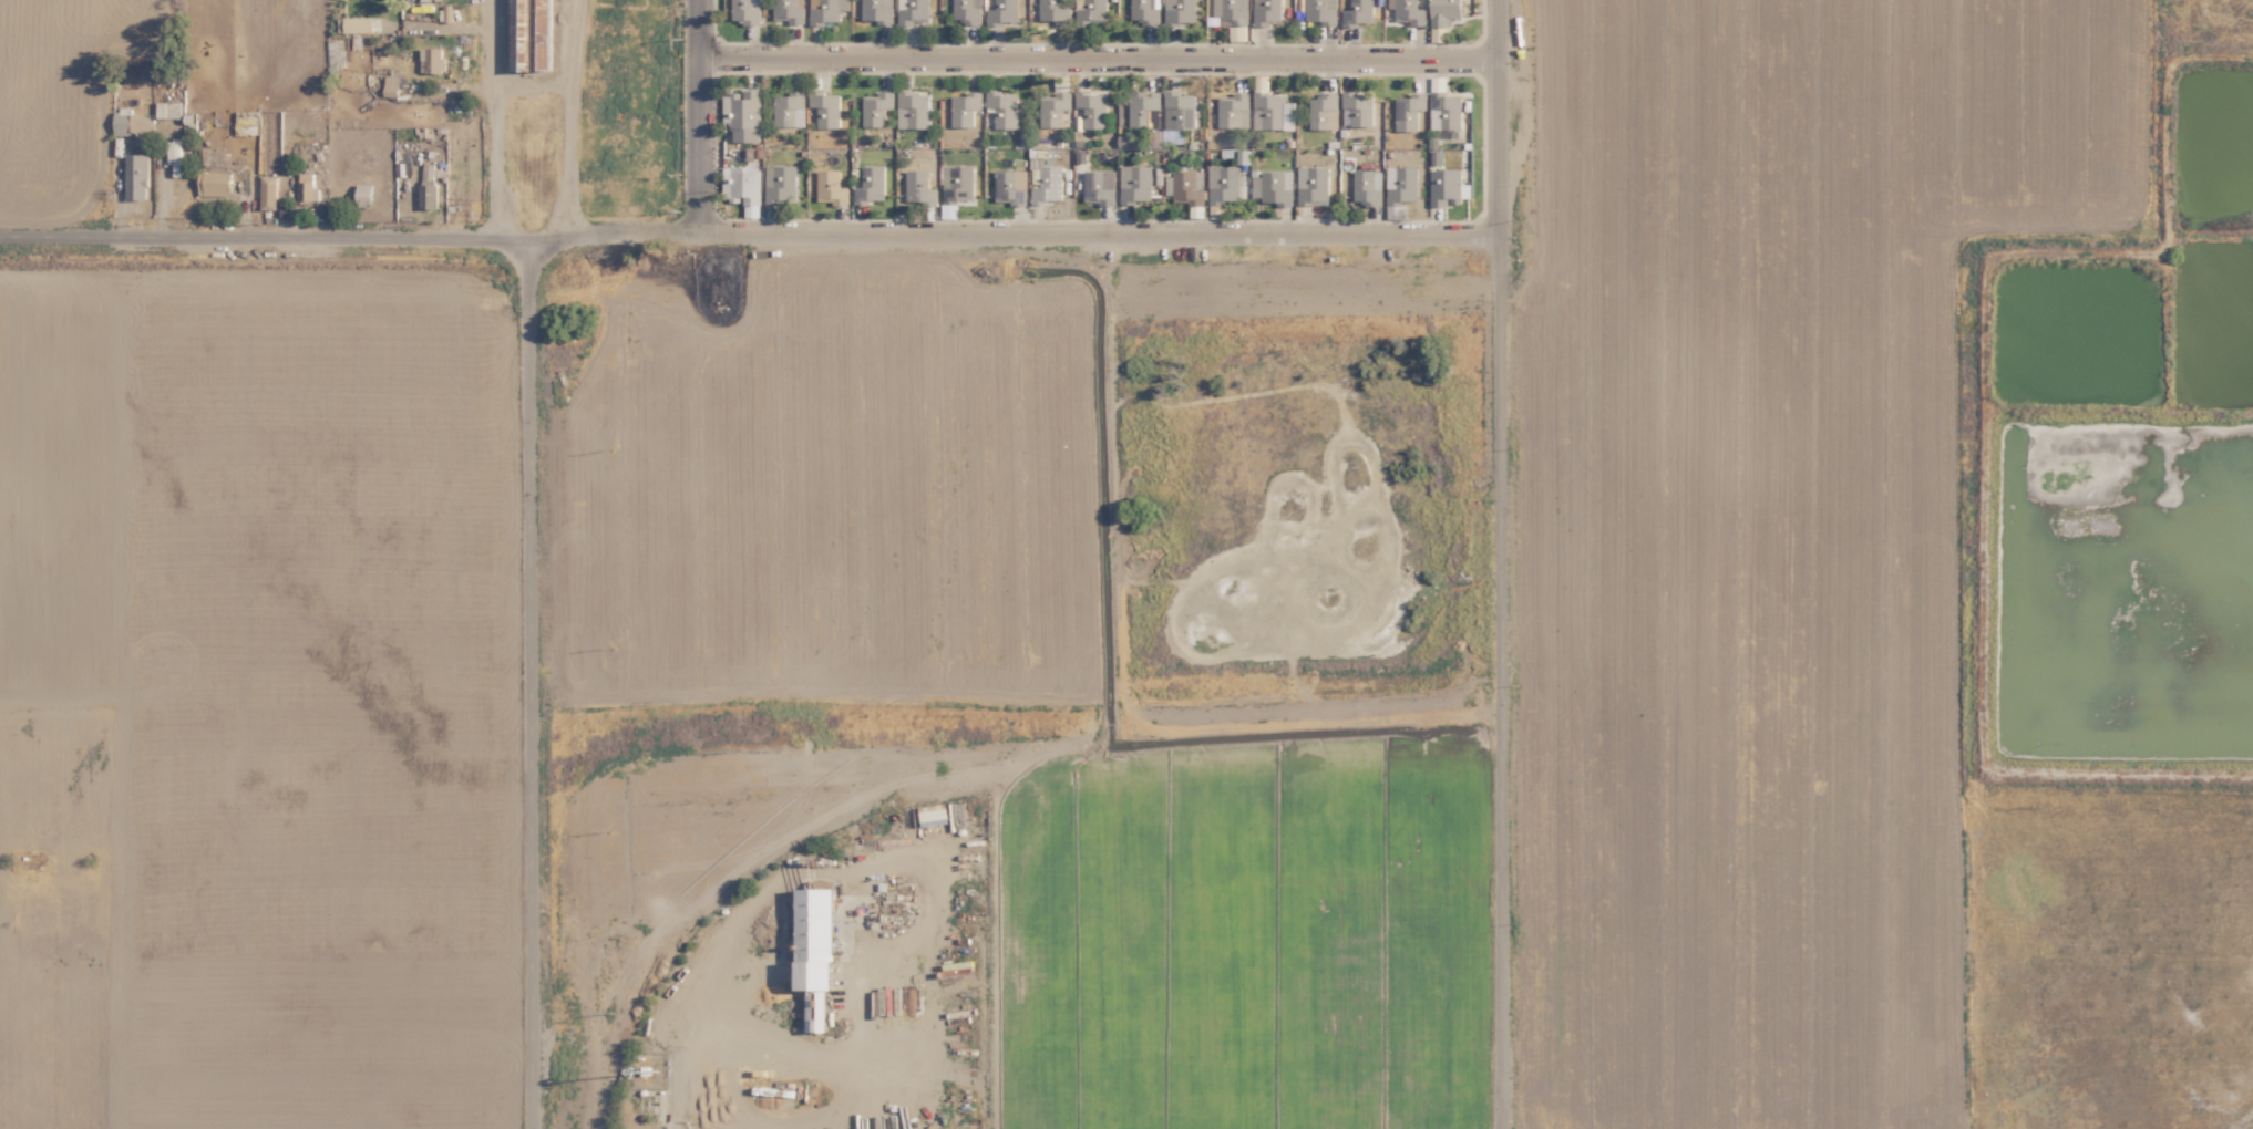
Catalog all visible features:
building: (426, 0)
building: (826, 10)
building: (876, 10)
building: (966, 10)
building: (1228, 10)
building: (745, 11)
building: (788, 11)
building: (912, 11)
building: (1002, 11)
building: (1052, 11)
building: (1090, 11)
building: (1143, 11)
building: (1180, 11)
building: (1321, 11)
building: (1410, 11)
building: (1267, 12)
building: (1358, 12)
building: (1444, 12)
building: (356, 24)
building: (336, 53)
building: (431, 60)
road: (1101, 60)
building: (876, 106)
building: (965, 106)
building: (825, 107)
building: (1002, 107)
building: (1092, 107)
building: (1356, 107)
building: (167, 108)
building: (789, 108)
building: (913, 108)
building: (1053, 108)
building: (1233, 110)
building: (1272, 110)
building: (1409, 110)
building: (1323, 111)
building: (1447, 112)
building: (742, 114)
building: (1162, 114)
road: (703, 116)
road: (501, 121)
building: (133, 124)
building: (136, 176)
building: (214, 183)
building: (780, 183)
building: (958, 183)
building: (1224, 183)
building: (872, 184)
building: (1135, 184)
building: (1313, 184)
building: (1049, 185)
building: (1099, 185)
building: (1402, 185)
building: (1010, 186)
building: (1184, 186)
building: (1273, 186)
building: (1368, 186)
building: (306, 187)
building: (743, 187)
building: (831, 187)
building: (919, 187)
building: (268, 193)
building: (363, 195)
building: (428, 196)
road: (750, 234)
road: (1501, 564)
road: (537, 682)

